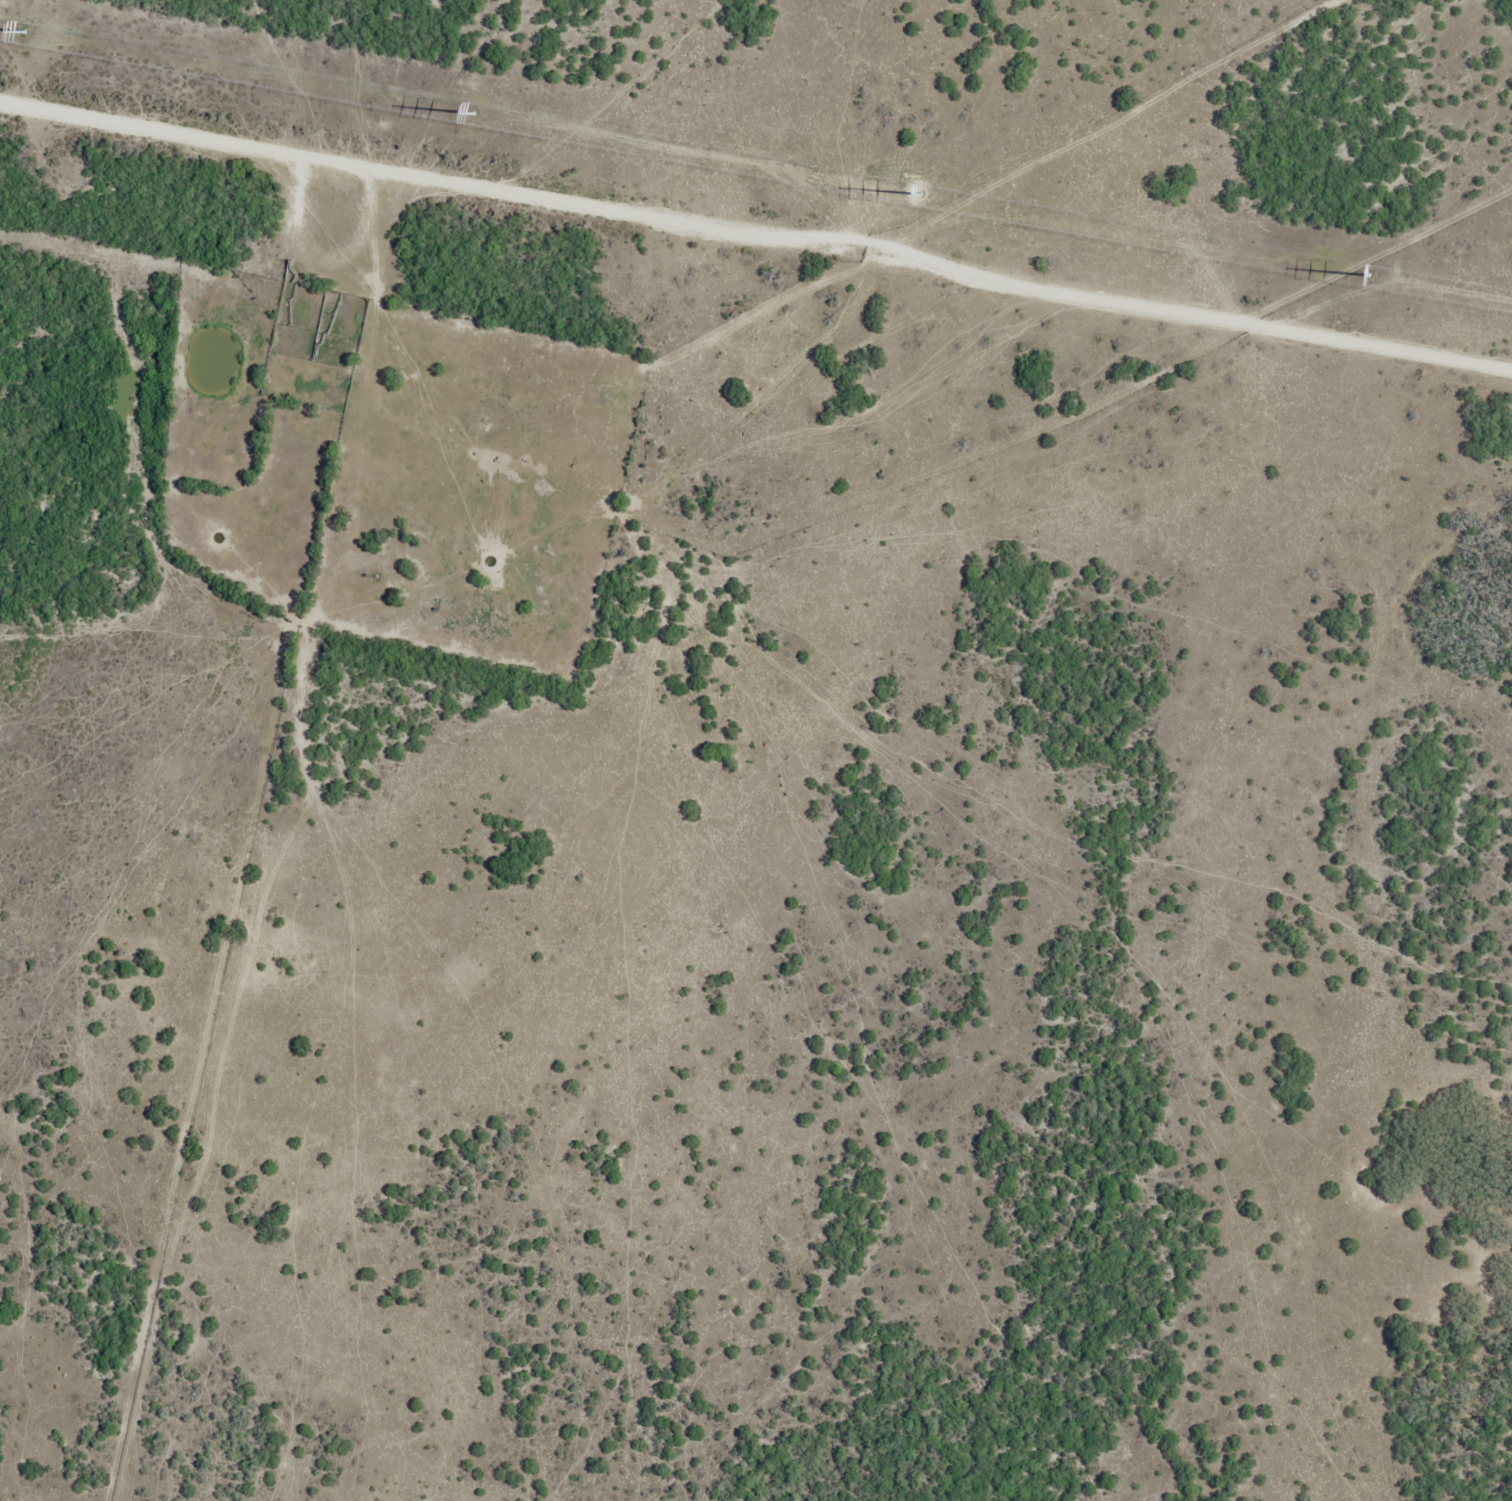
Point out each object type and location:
power tower: (27, 36)
power tower: (477, 116)
power tower: (922, 196)
road: (955, 274)
power tower: (1371, 280)
road: (185, 289)
road: (304, 637)
road: (46, 1479)

